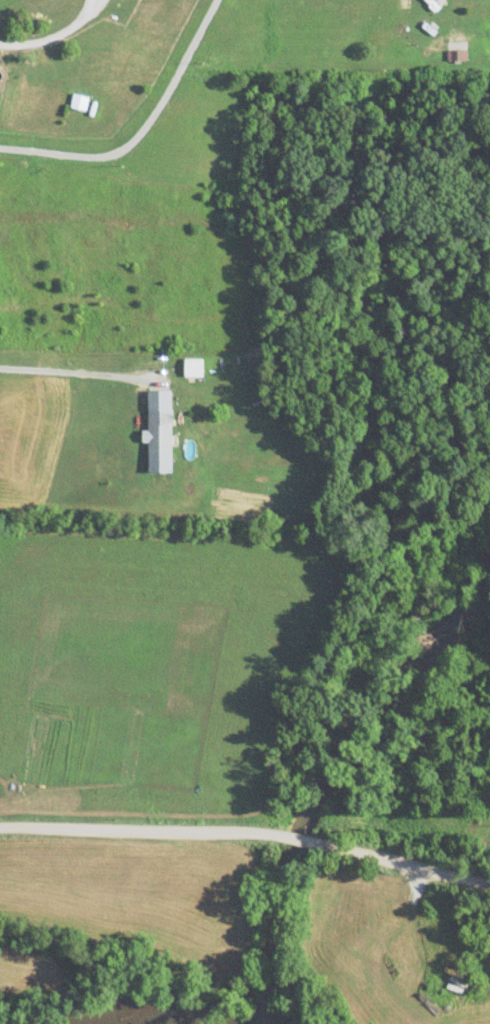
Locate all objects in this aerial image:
building: (193, 369)
building: (159, 433)
river: (329, 763)
road: (137, 832)
road: (302, 840)
road: (409, 865)
river: (149, 1010)

